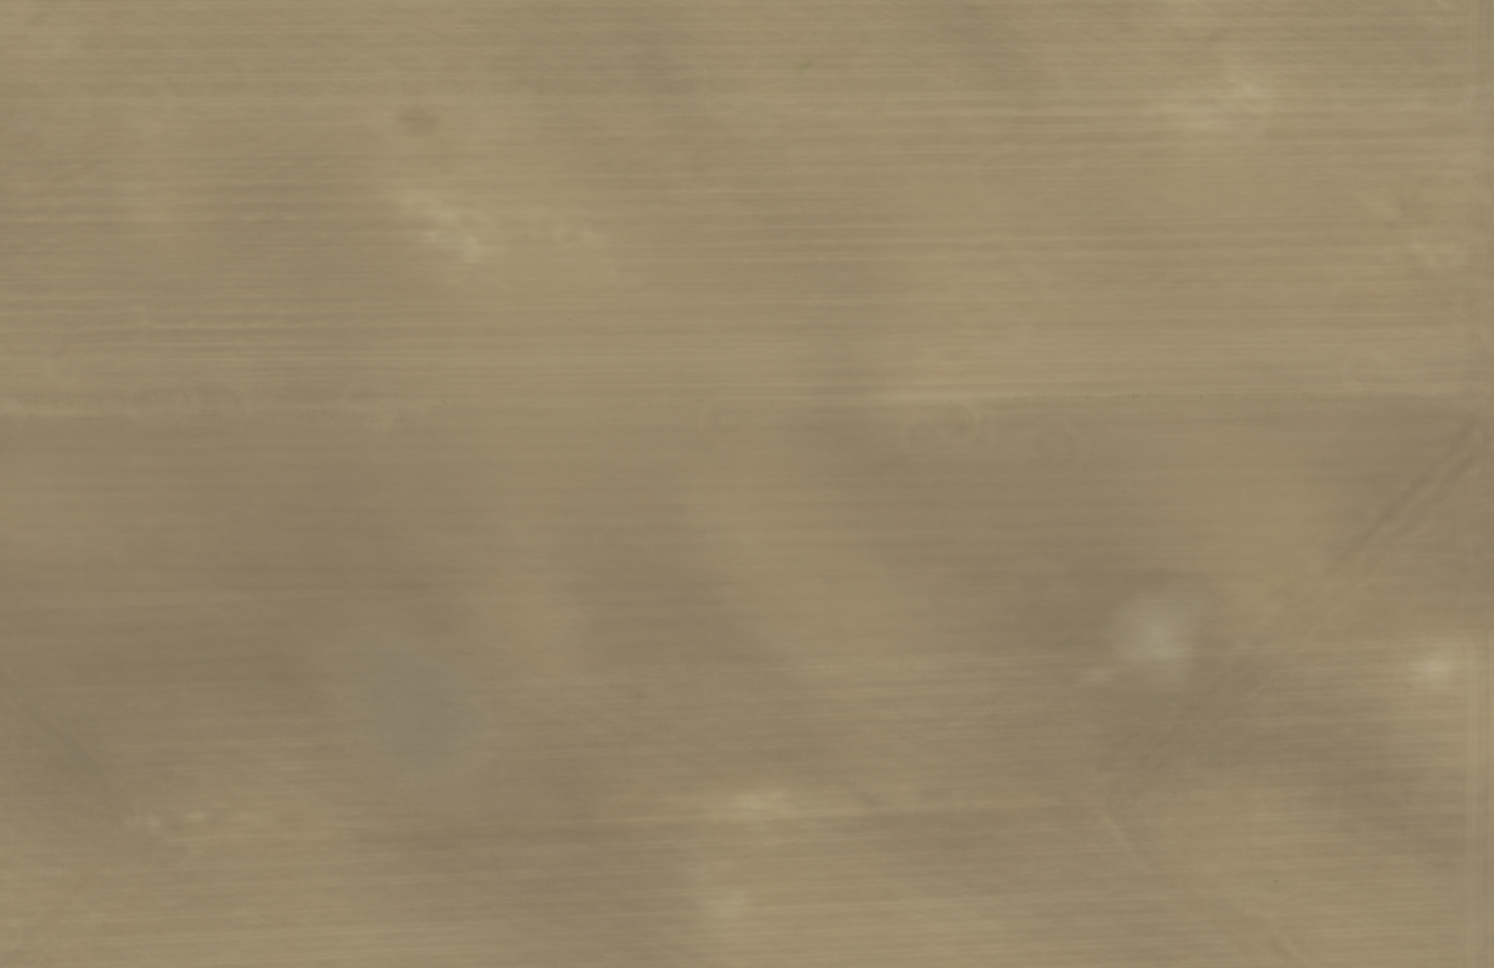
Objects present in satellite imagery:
crop: (747, 484)

